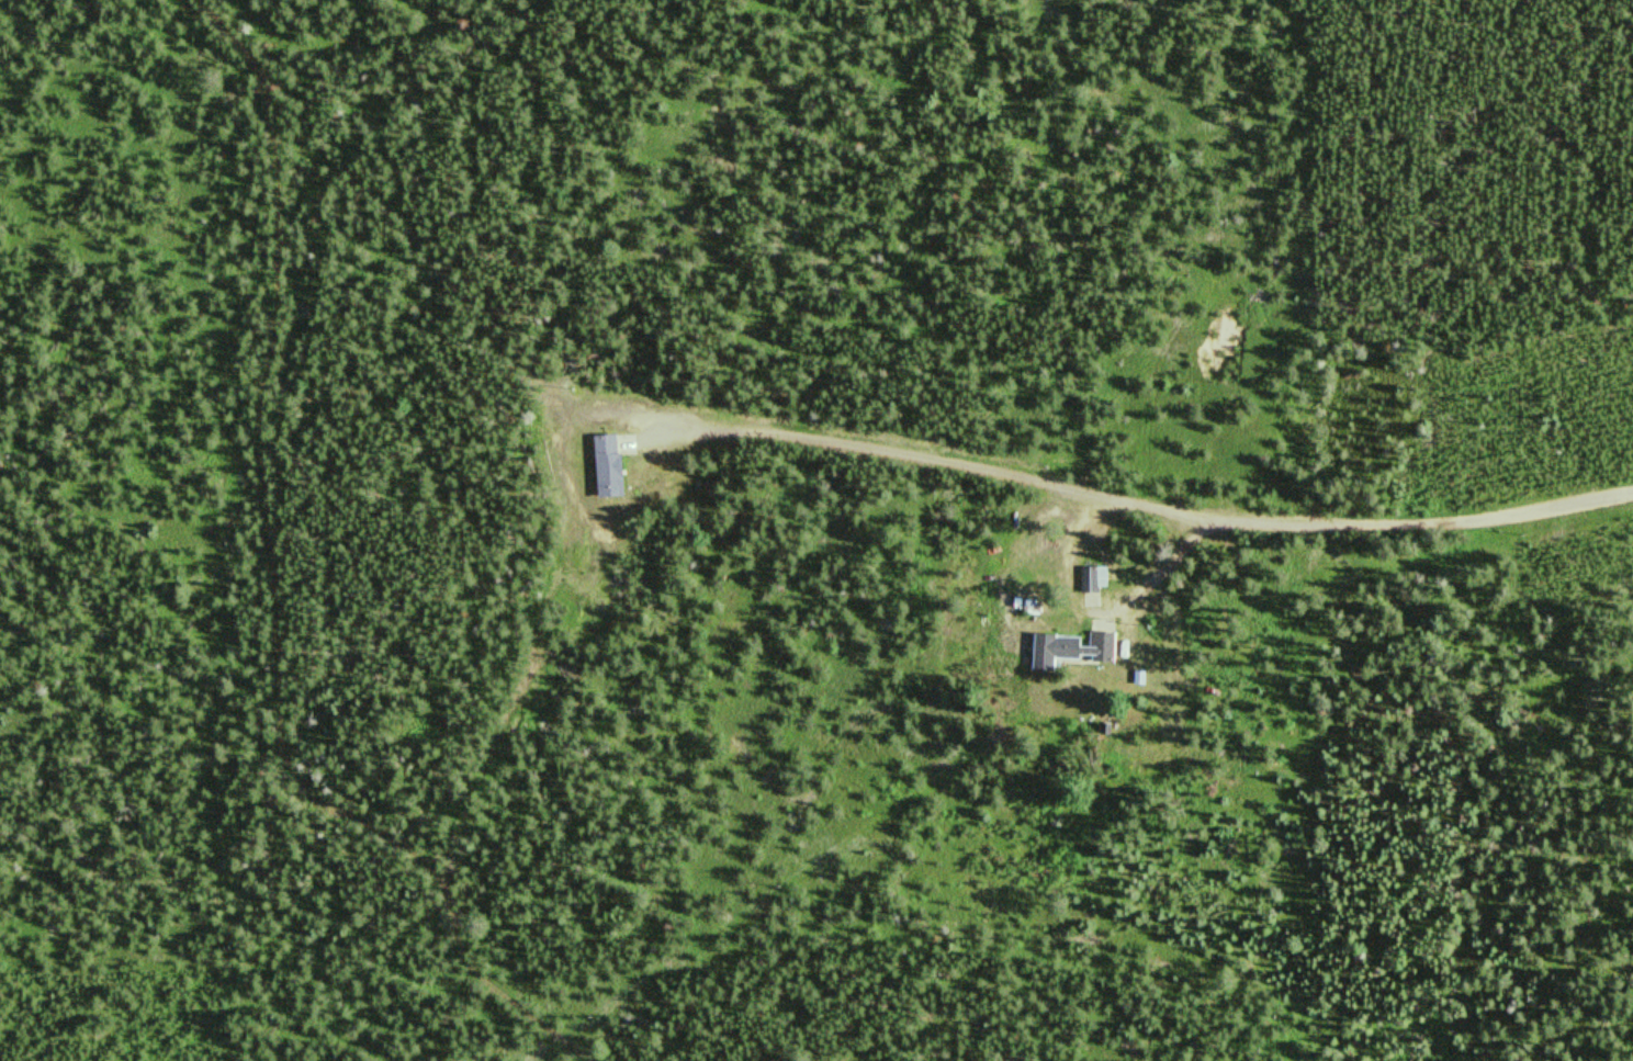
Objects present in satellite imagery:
road: (857, 415)
building: (601, 466)
building: (1089, 586)
building: (1068, 650)
road: (565, 734)

